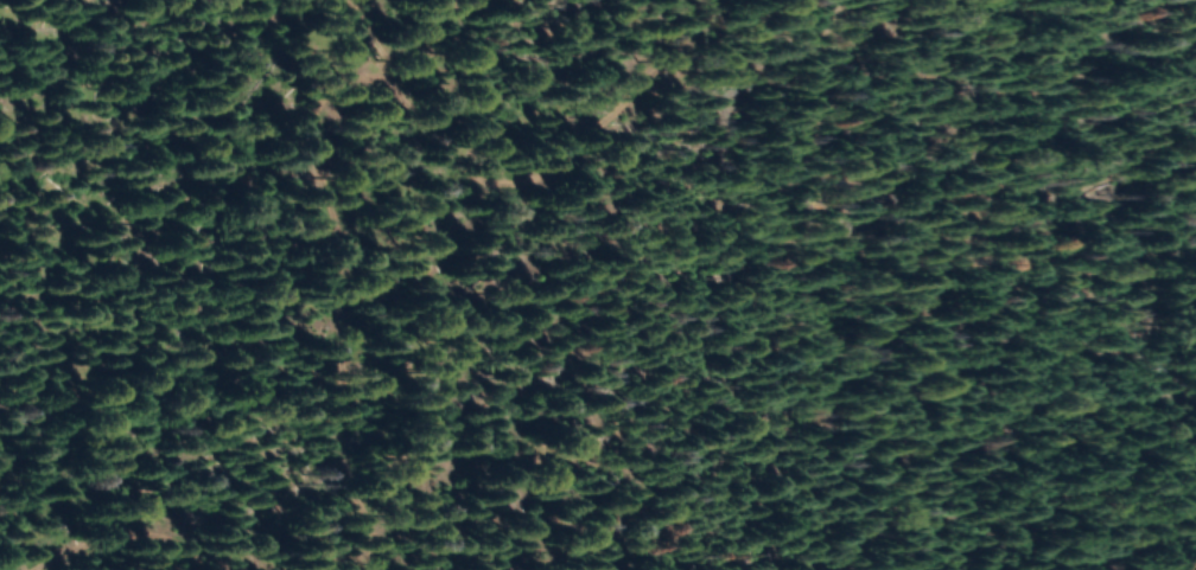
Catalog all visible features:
road: (421, 433)

